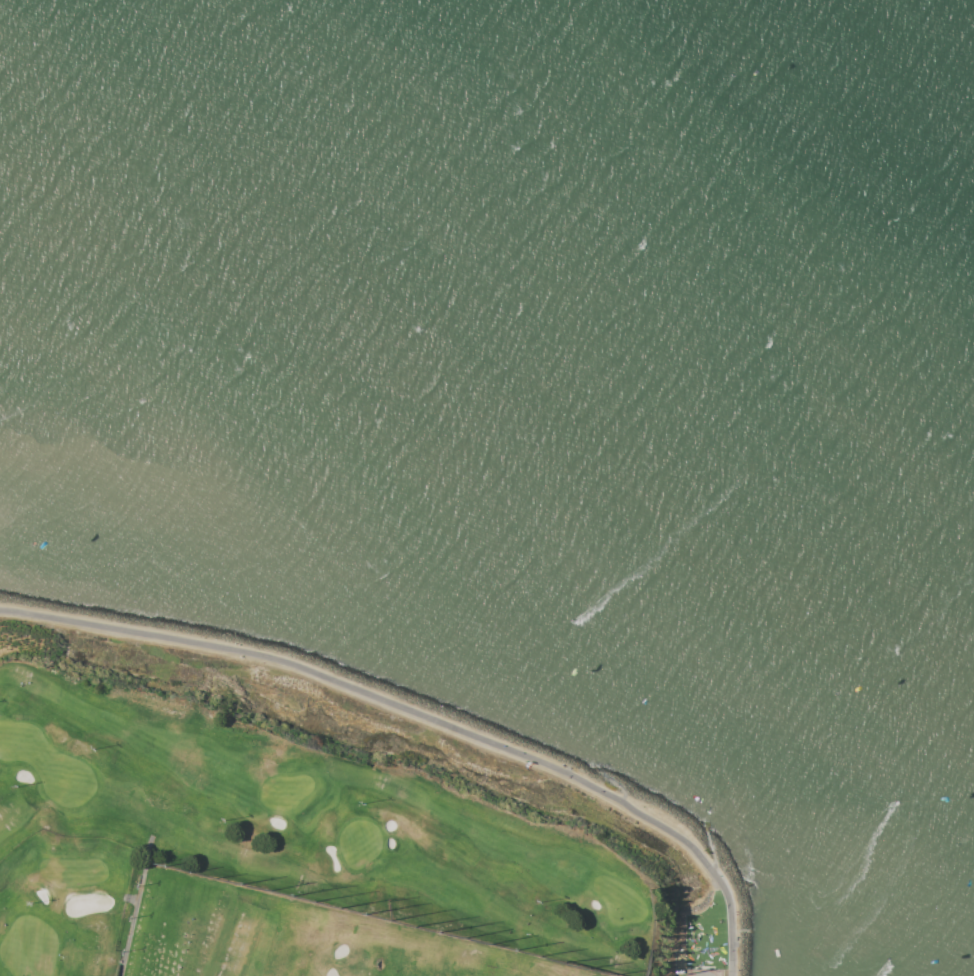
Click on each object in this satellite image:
park: (274, 854)
park: (705, 940)
parking lot: (703, 971)

